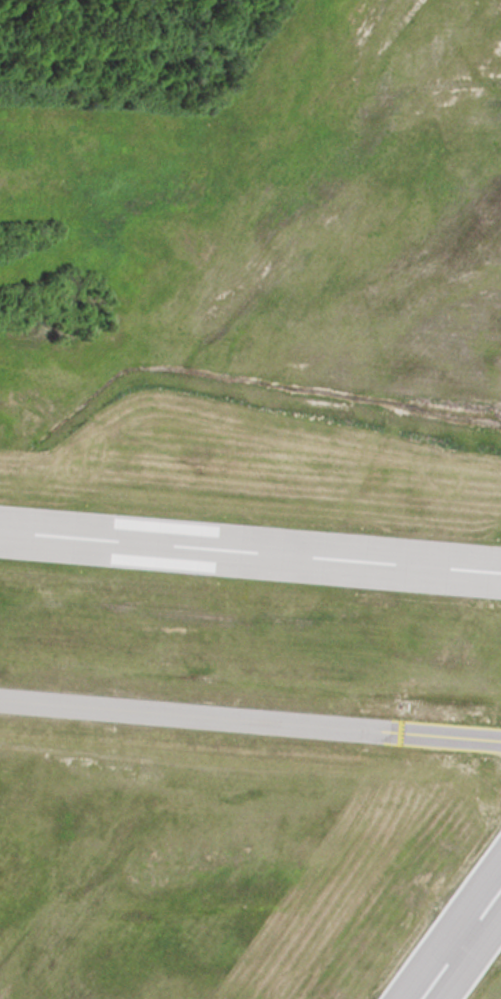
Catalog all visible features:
airport runway: (250, 521)
airport runway: (250, 549)
airport runway: (250, 574)
airport taxiway: (250, 717)
airport runway: (434, 907)
airport runway: (456, 938)
airport runway: (477, 966)

